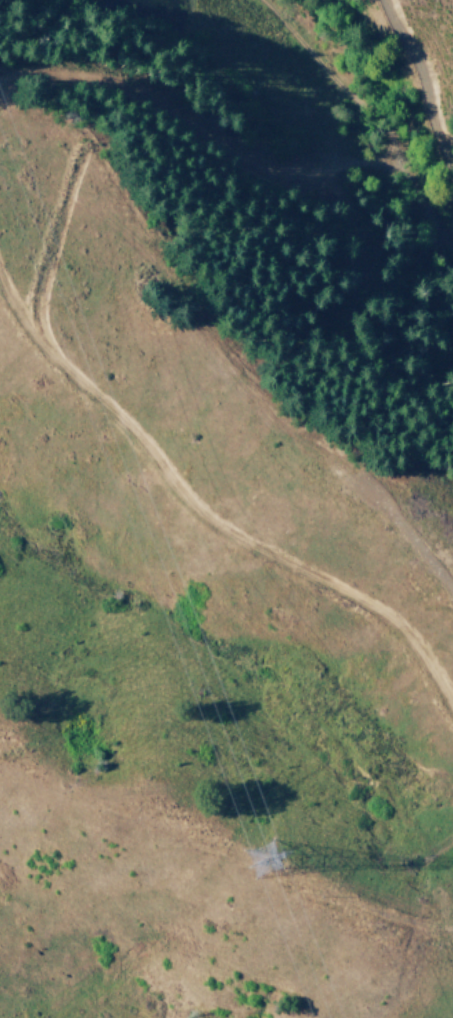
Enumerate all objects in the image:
road: (446, 115)
power tower: (259, 860)

